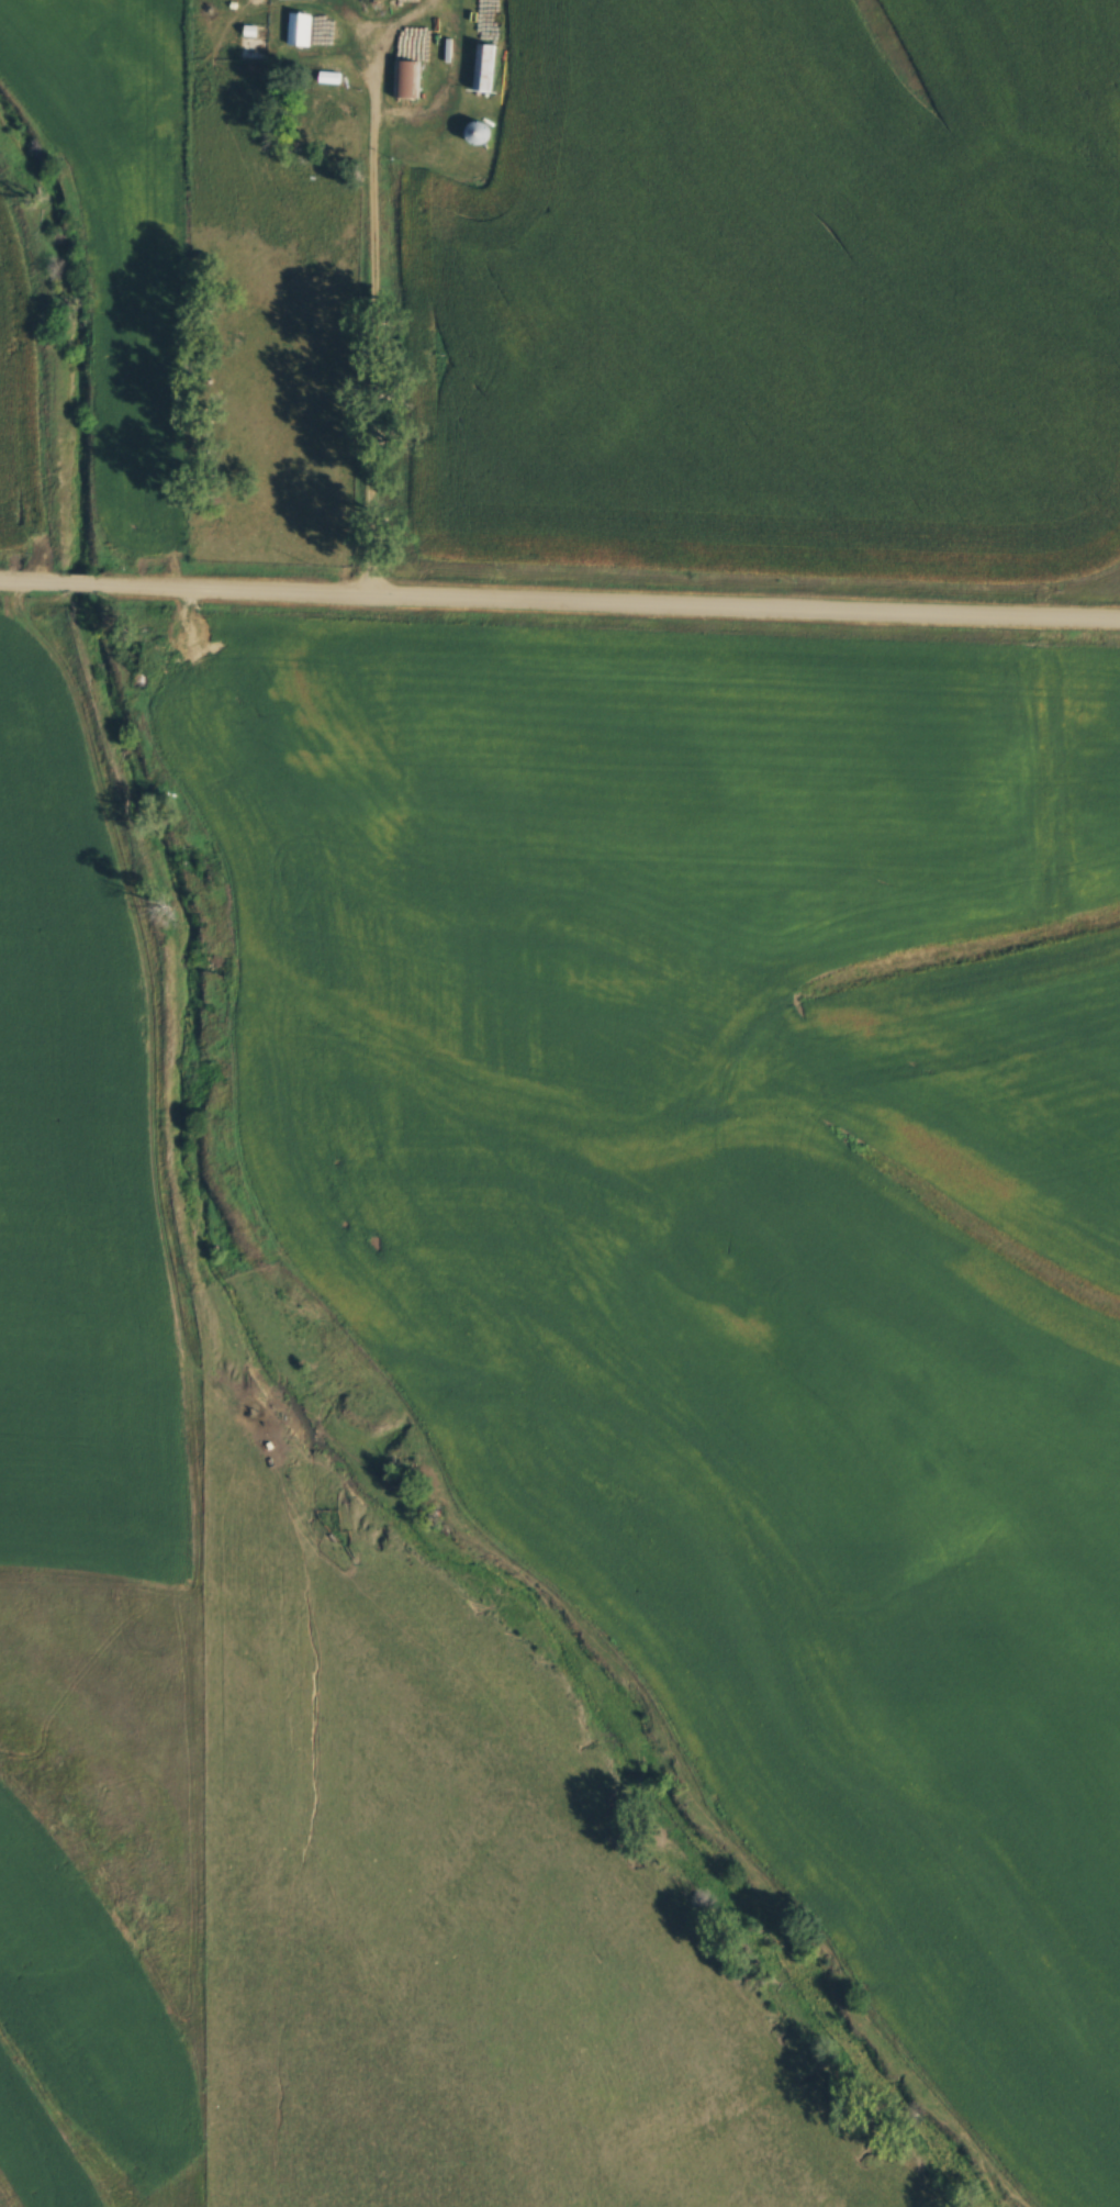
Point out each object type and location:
building: (295, 24)
building: (480, 64)
building: (326, 68)
building: (403, 75)
building: (324, 111)
building: (473, 129)
road: (368, 399)
road: (34, 583)
road: (80, 586)
road: (605, 600)

